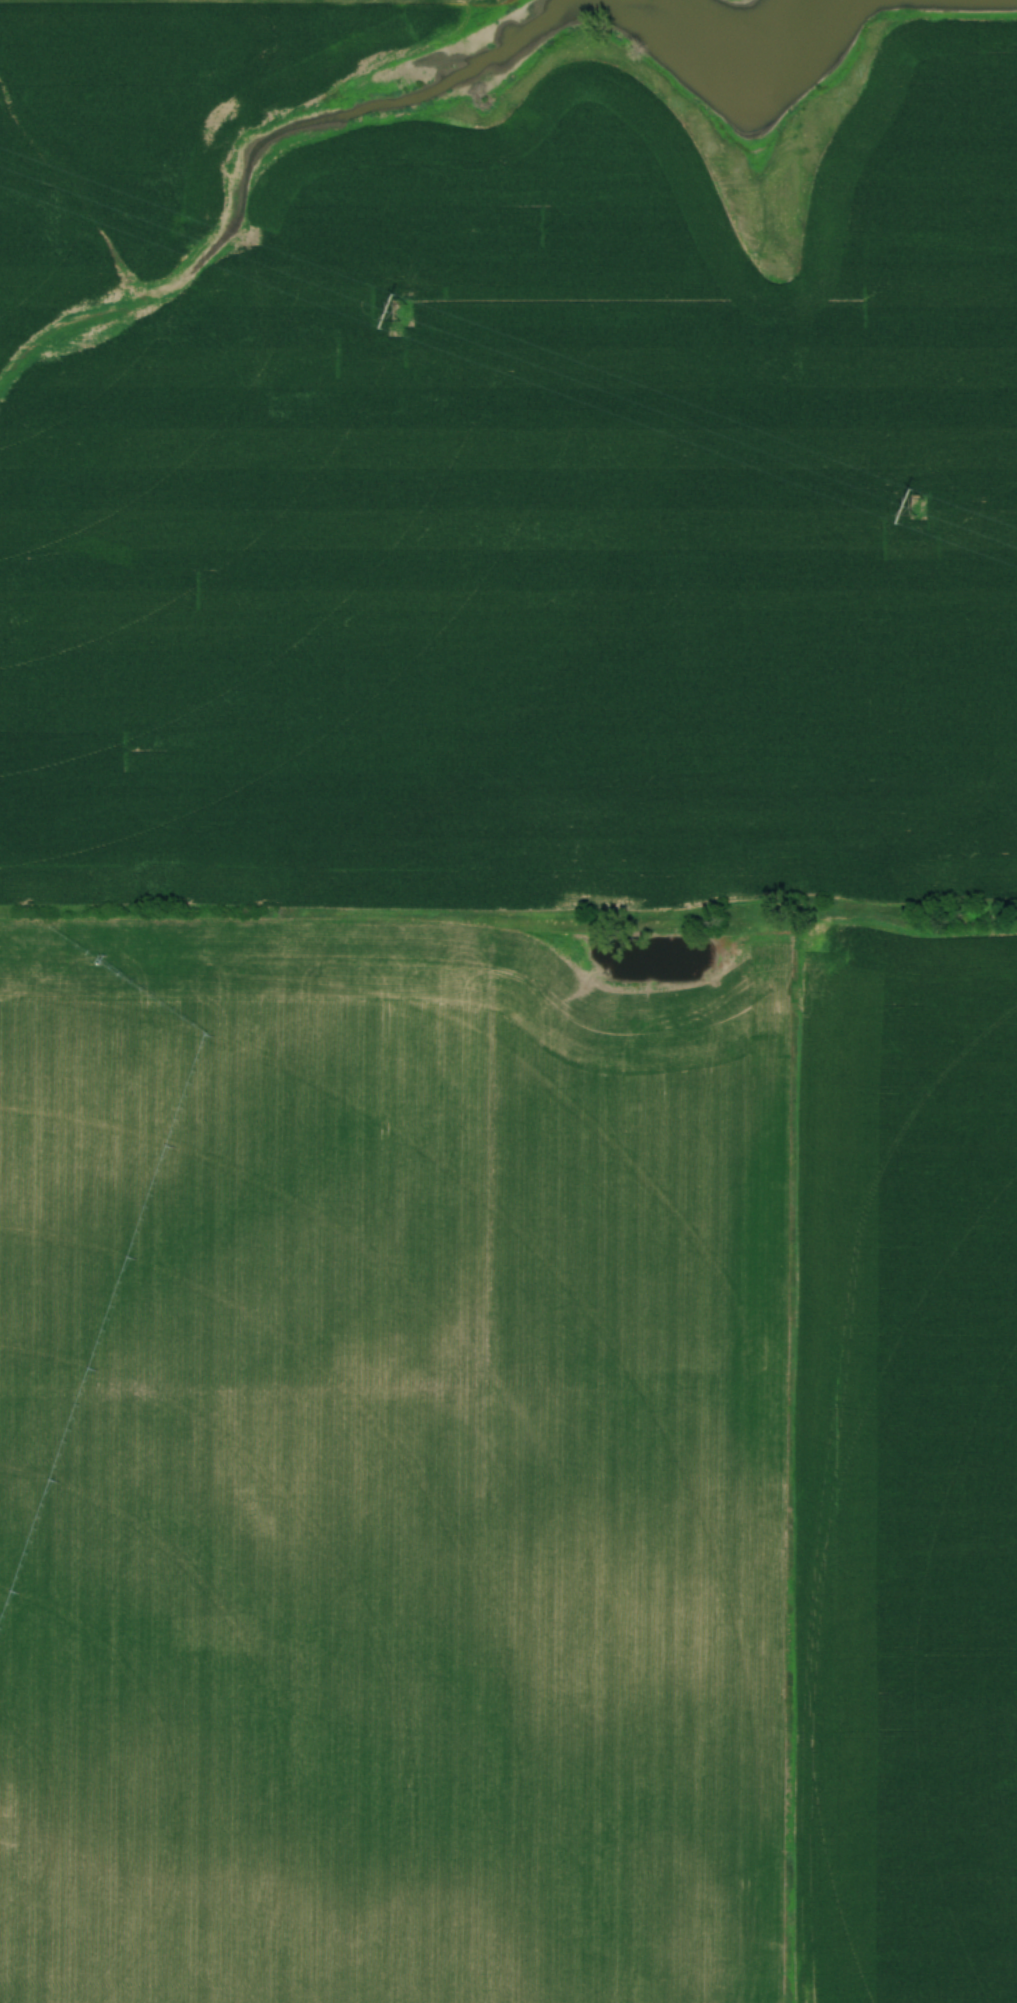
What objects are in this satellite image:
power tower: (463, 341)
power tower: (948, 520)

